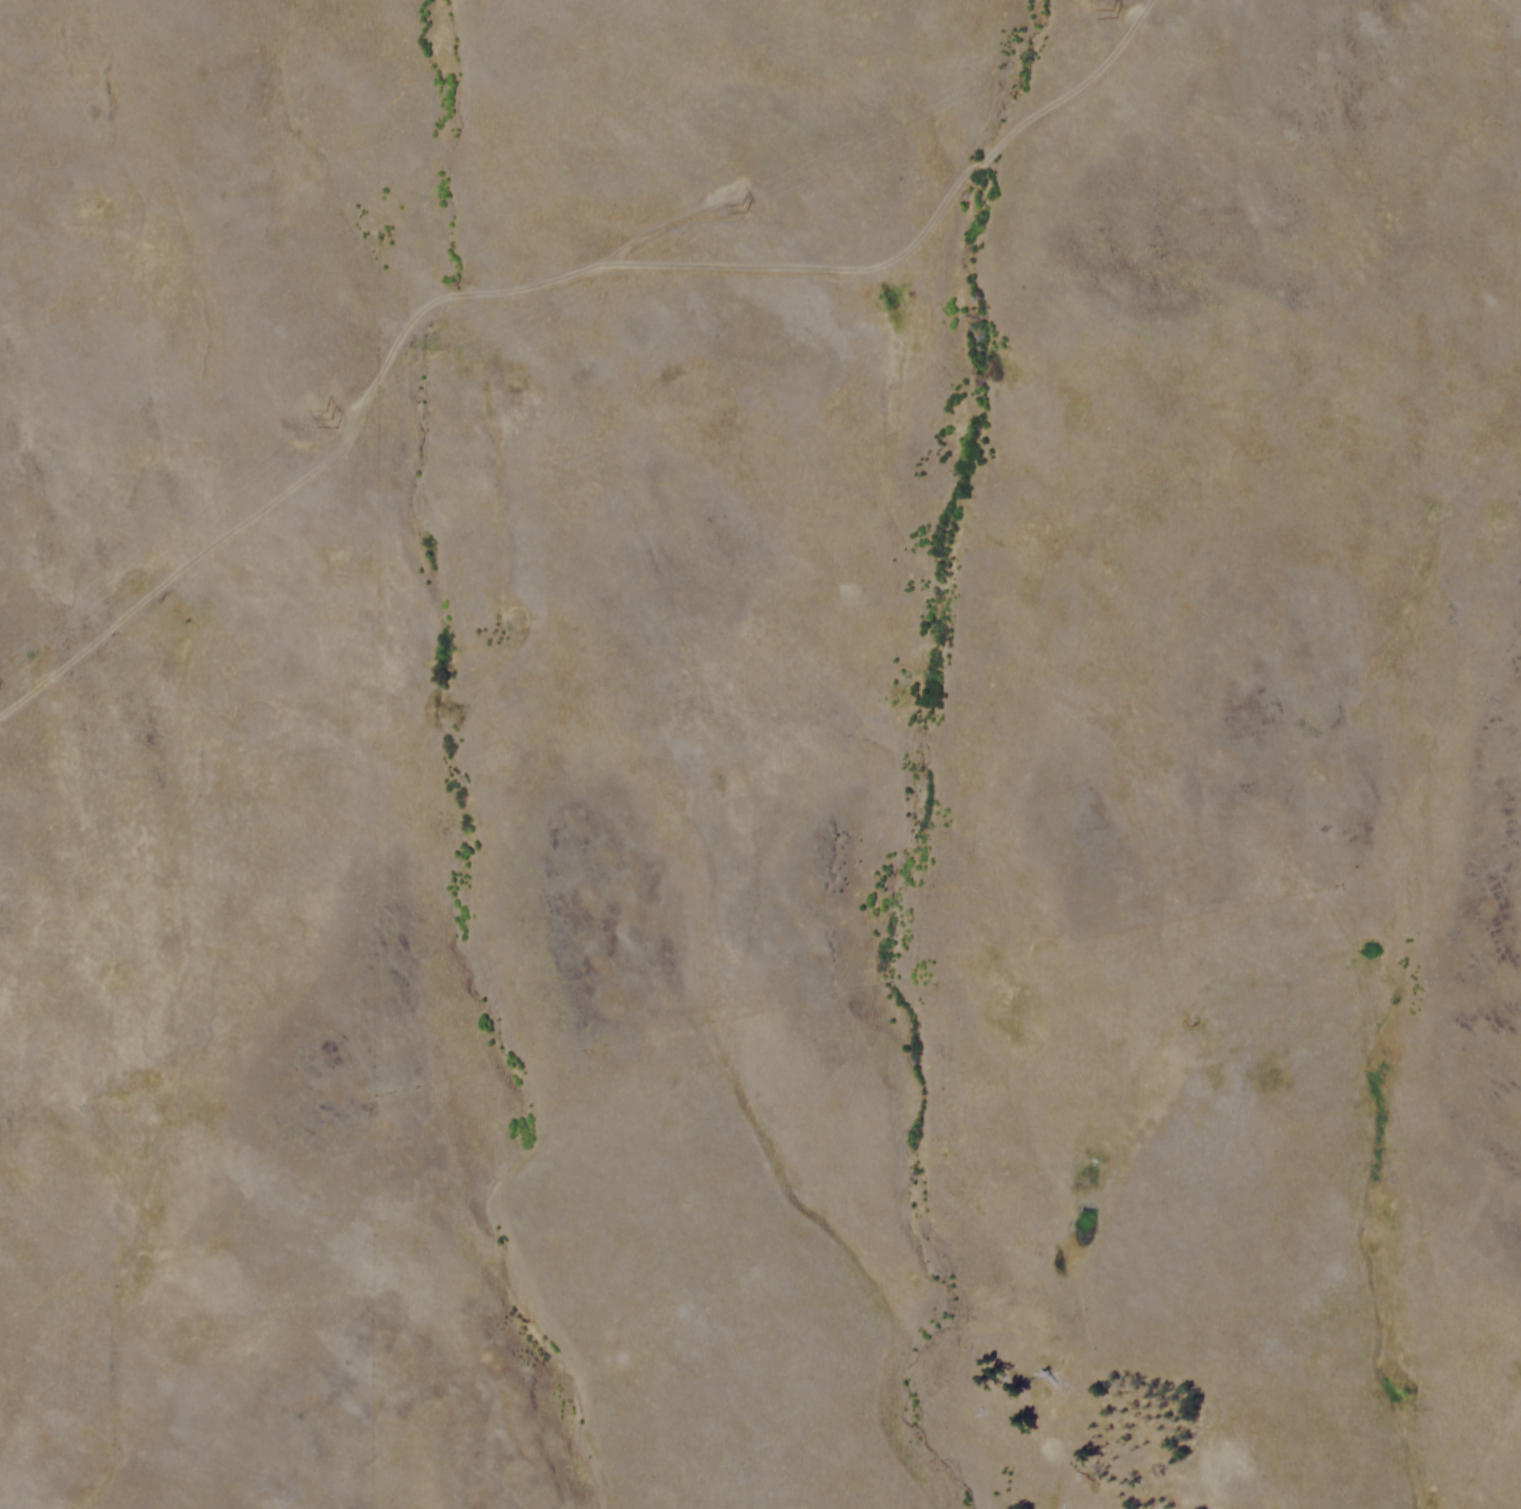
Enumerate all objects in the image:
power tower: (1115, 13)
power tower: (746, 207)
road: (661, 225)
road: (753, 264)
power tower: (330, 426)
road: (165, 579)

